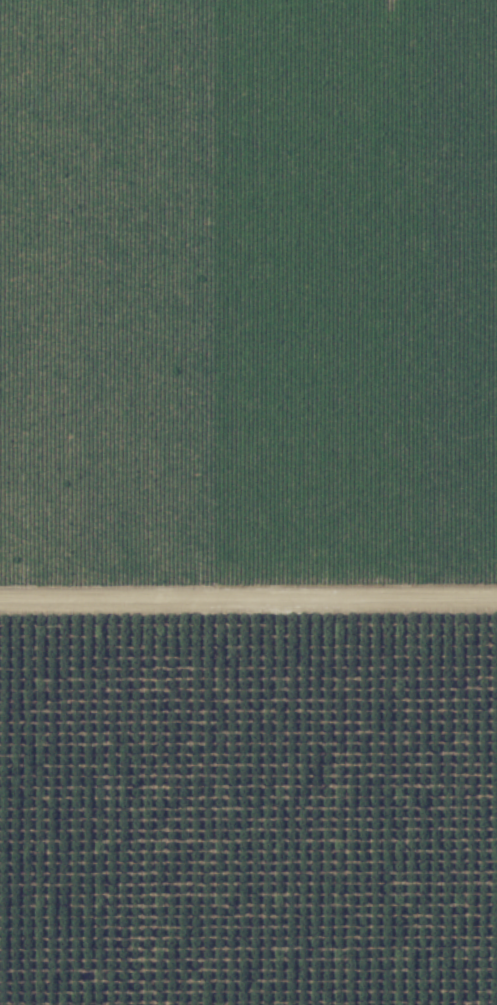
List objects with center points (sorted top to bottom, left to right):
road: (248, 605)

